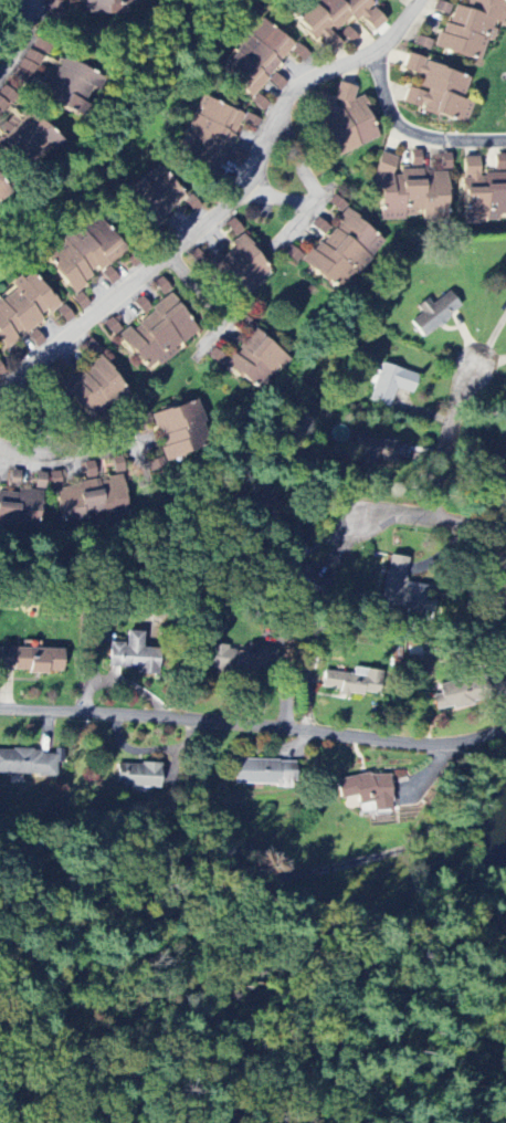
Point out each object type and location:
building: (105, 8)
building: (53, 11)
building: (333, 19)
building: (471, 28)
building: (348, 36)
road: (17, 38)
building: (422, 44)
building: (253, 57)
building: (27, 67)
building: (275, 82)
building: (65, 87)
building: (435, 92)
building: (344, 120)
road: (413, 134)
building: (207, 136)
building: (25, 143)
building: (414, 159)
building: (444, 161)
road: (314, 191)
building: (409, 195)
building: (482, 195)
building: (151, 198)
road: (229, 204)
building: (319, 228)
building: (233, 229)
building: (337, 253)
building: (78, 259)
building: (236, 270)
road: (212, 305)
building: (22, 309)
building: (433, 314)
building: (112, 328)
building: (157, 333)
building: (250, 357)
building: (390, 385)
building: (91, 387)
road: (452, 428)
building: (179, 431)
road: (45, 435)
building: (373, 450)
road: (87, 451)
building: (14, 477)
building: (54, 480)
building: (92, 497)
building: (19, 513)
road: (418, 519)
building: (302, 580)
building: (404, 589)
building: (500, 595)
building: (133, 655)
building: (30, 660)
building: (235, 660)
building: (351, 682)
building: (450, 696)
road: (254, 727)
building: (27, 763)
building: (262, 774)
building: (136, 776)
building: (366, 791)

